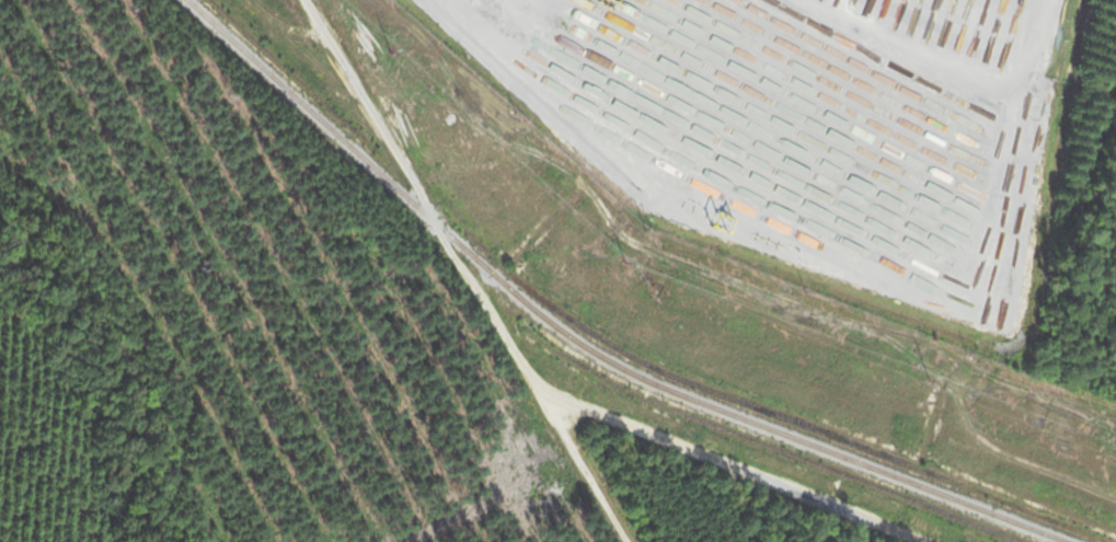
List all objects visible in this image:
road: (956, 76)
road: (476, 273)
railway: (585, 344)
road: (782, 472)

